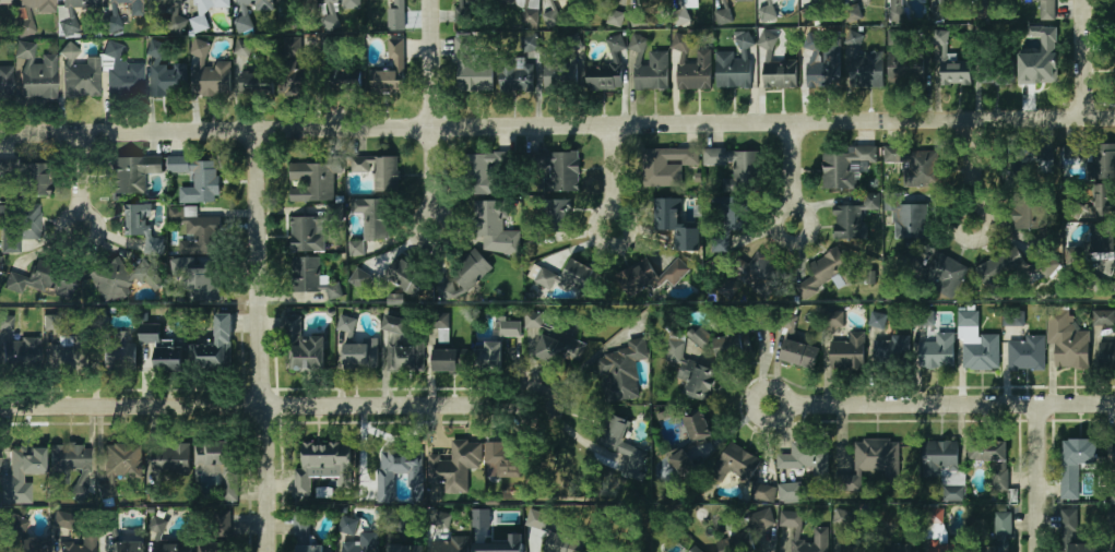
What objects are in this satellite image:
building: (1114, 0)
building: (298, 1)
building: (514, 1)
building: (743, 1)
building: (3, 2)
building: (696, 2)
building: (768, 2)
building: (80, 3)
building: (253, 3)
building: (342, 4)
building: (36, 7)
building: (894, 7)
building: (124, 9)
building: (463, 10)
building: (1045, 10)
building: (204, 11)
building: (853, 11)
building: (614, 12)
building: (768, 13)
building: (395, 14)
building: (174, 15)
building: (808, 15)
building: (530, 16)
building: (681, 16)
building: (723, 16)
building: (553, 17)
building: (112, 20)
building: (1114, 27)
building: (1040, 35)
building: (894, 37)
building: (530, 41)
building: (293, 46)
building: (944, 46)
building: (395, 53)
road: (1086, 58)
building: (829, 60)
building: (735, 64)
building: (470, 65)
building: (649, 67)
building: (691, 67)
building: (864, 67)
building: (776, 68)
building: (1035, 68)
building: (608, 69)
building: (908, 69)
building: (560, 71)
building: (36, 72)
building: (121, 74)
building: (165, 74)
building: (956, 74)
building: (517, 76)
building: (214, 79)
building: (996, 79)
building: (81, 80)
building: (253, 82)
building: (295, 82)
building: (389, 82)
building: (5, 83)
building: (346, 85)
road: (429, 113)
road: (557, 125)
building: (1096, 159)
building: (915, 166)
building: (665, 167)
building: (9, 168)
building: (845, 168)
building: (1035, 169)
building: (558, 171)
road: (974, 171)
building: (378, 172)
building: (746, 172)
building: (132, 173)
building: (477, 175)
road: (792, 175)
road: (610, 177)
building: (26, 180)
road: (76, 181)
building: (312, 181)
building: (201, 183)
building: (1103, 201)
building: (1028, 211)
building: (737, 214)
building: (854, 217)
building: (371, 218)
building: (134, 219)
building: (911, 220)
building: (549, 223)
building: (674, 223)
building: (493, 226)
building: (19, 227)
building: (195, 231)
building: (304, 235)
building: (1101, 252)
building: (1074, 255)
building: (1000, 268)
building: (1043, 268)
building: (470, 269)
building: (141, 272)
building: (827, 272)
building: (761, 273)
building: (945, 273)
building: (305, 275)
building: (405, 276)
building: (647, 277)
building: (45, 278)
building: (360, 278)
building: (566, 279)
building: (110, 280)
building: (203, 284)
building: (444, 290)
building: (335, 291)
building: (395, 298)
building: (1013, 315)
building: (926, 316)
building: (1103, 317)
building: (832, 320)
building: (878, 320)
building: (7, 322)
building: (50, 323)
building: (347, 323)
building: (792, 324)
building: (510, 326)
building: (437, 328)
building: (701, 338)
building: (553, 339)
road: (256, 341)
building: (1067, 341)
building: (303, 347)
building: (402, 347)
building: (731, 347)
building: (214, 348)
building: (118, 350)
building: (163, 350)
building: (936, 351)
building: (849, 352)
building: (980, 352)
building: (20, 353)
building: (888, 353)
building: (1025, 353)
building: (1106, 353)
building: (67, 355)
building: (799, 355)
building: (359, 356)
building: (488, 358)
building: (449, 361)
building: (620, 371)
building: (689, 371)
road: (940, 405)
road: (265, 407)
building: (698, 427)
building: (622, 445)
building: (1113, 452)
building: (799, 456)
building: (993, 459)
building: (26, 460)
building: (170, 460)
building: (505, 460)
building: (941, 461)
building: (870, 463)
building: (69, 464)
building: (683, 464)
building: (1075, 464)
building: (118, 465)
building: (738, 465)
building: (323, 466)
building: (466, 466)
building: (220, 467)
building: (391, 471)
road: (1039, 478)
building: (762, 492)
building: (787, 492)
building: (323, 493)
building: (935, 515)
building: (843, 516)
building: (60, 518)
building: (536, 518)
building: (441, 520)
building: (109, 524)
building: (222, 524)
building: (398, 524)
building: (157, 526)
building: (346, 526)
building: (15, 527)
building: (493, 532)
building: (1001, 532)
building: (747, 533)
building: (1070, 533)
building: (820, 535)
building: (130, 537)
building: (306, 537)
building: (363, 542)
building: (564, 543)
building: (79, 544)
building: (452, 544)
building: (501, 544)
building: (128, 547)
building: (175, 548)
building: (216, 548)
building: (901, 548)
building: (404, 549)
building: (853, 549)
building: (946, 549)
building: (1114, 549)
building: (696, 550)

